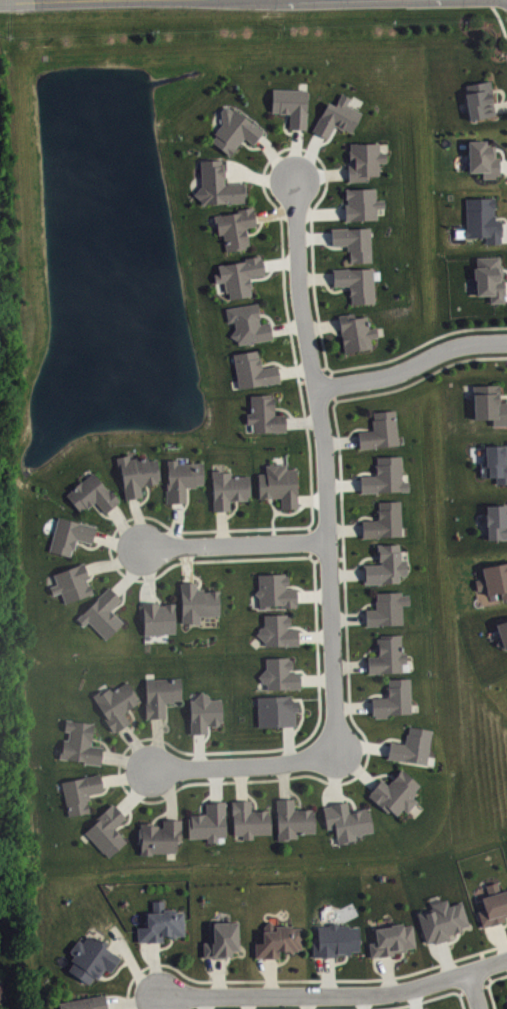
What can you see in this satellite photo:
road: (7, 0)
road: (502, 92)
building: (478, 98)
building: (290, 104)
road: (499, 105)
building: (336, 116)
road: (284, 126)
building: (234, 129)
road: (252, 147)
road: (295, 153)
road: (502, 153)
road: (307, 156)
building: (482, 157)
road: (276, 158)
building: (363, 159)
road: (342, 165)
road: (503, 165)
road: (228, 173)
road: (320, 173)
road: (259, 176)
building: (217, 184)
building: (361, 202)
road: (339, 204)
road: (274, 212)
road: (320, 212)
road: (504, 217)
building: (481, 218)
building: (234, 226)
road: (258, 227)
road: (504, 227)
road: (314, 236)
building: (354, 241)
road: (331, 245)
road: (280, 262)
road: (504, 268)
building: (238, 274)
road: (265, 275)
road: (315, 277)
building: (489, 277)
building: (355, 282)
road: (505, 285)
road: (332, 289)
road: (269, 317)
building: (247, 322)
road: (321, 325)
road: (287, 326)
road: (333, 330)
building: (355, 331)
road: (276, 361)
road: (411, 365)
road: (328, 367)
building: (252, 369)
road: (294, 369)
road: (312, 374)
road: (331, 385)
road: (503, 395)
building: (489, 403)
road: (287, 409)
building: (264, 414)
road: (303, 421)
road: (356, 428)
building: (380, 430)
road: (341, 440)
building: (495, 462)
road: (325, 465)
road: (359, 472)
building: (136, 473)
building: (384, 475)
building: (181, 478)
road: (343, 483)
building: (278, 484)
building: (228, 488)
building: (91, 493)
road: (145, 497)
road: (311, 499)
road: (187, 500)
road: (232, 511)
road: (286, 513)
road: (103, 514)
road: (360, 516)
building: (384, 520)
road: (139, 521)
building: (496, 521)
road: (164, 523)
road: (176, 523)
road: (273, 525)
road: (222, 526)
road: (124, 528)
road: (344, 529)
building: (69, 534)
road: (311, 540)
road: (117, 541)
road: (235, 543)
road: (90, 546)
road: (115, 562)
road: (187, 562)
building: (385, 565)
road: (132, 571)
road: (346, 572)
road: (91, 574)
road: (148, 574)
road: (199, 577)
building: (493, 579)
building: (71, 582)
road: (297, 586)
building: (275, 590)
road: (313, 595)
road: (123, 599)
building: (196, 601)
road: (362, 606)
building: (386, 608)
building: (101, 612)
building: (156, 616)
road: (347, 617)
road: (299, 626)
building: (277, 630)
building: (502, 633)
road: (314, 636)
road: (364, 653)
building: (387, 654)
road: (349, 665)
road: (300, 670)
building: (279, 673)
road: (348, 678)
road: (315, 679)
building: (160, 694)
road: (370, 694)
building: (392, 698)
building: (115, 704)
road: (352, 706)
building: (276, 710)
building: (204, 712)
road: (303, 712)
road: (166, 716)
road: (134, 721)
road: (208, 733)
road: (388, 737)
building: (79, 742)
road: (104, 742)
road: (157, 742)
road: (289, 743)
road: (360, 745)
building: (411, 745)
road: (136, 747)
road: (199, 749)
road: (126, 758)
road: (243, 766)
road: (356, 768)
road: (379, 773)
road: (126, 777)
road: (335, 778)
road: (284, 780)
road: (241, 783)
road: (214, 784)
road: (138, 790)
building: (80, 791)
road: (167, 791)
road: (102, 792)
building: (395, 792)
road: (296, 794)
road: (252, 797)
road: (349, 797)
road: (160, 813)
road: (129, 818)
building: (248, 818)
building: (292, 819)
building: (346, 820)
building: (208, 821)
building: (106, 829)
building: (159, 836)
building: (493, 905)
road: (506, 916)
building: (441, 919)
building: (161, 923)
road: (502, 925)
building: (221, 939)
building: (335, 939)
building: (391, 939)
road: (451, 939)
building: (277, 940)
road: (501, 940)
road: (115, 945)
road: (165, 945)
building: (91, 958)
road: (396, 958)
road: (444, 958)
road: (225, 960)
road: (281, 961)
road: (339, 961)
road: (132, 963)
road: (484, 965)
road: (156, 968)
road: (115, 971)
road: (387, 973)
road: (328, 974)
road: (219, 976)
road: (271, 976)
road: (301, 979)
road: (488, 985)
road: (472, 987)
road: (474, 990)
building: (0, 994)
road: (335, 994)
road: (415, 998)
road: (308, 1001)
road: (364, 1001)
building: (85, 1002)
road: (155, 1002)
road: (206, 1002)
road: (249, 1002)
road: (133, 1004)
road: (111, 1006)
road: (385, 1007)

